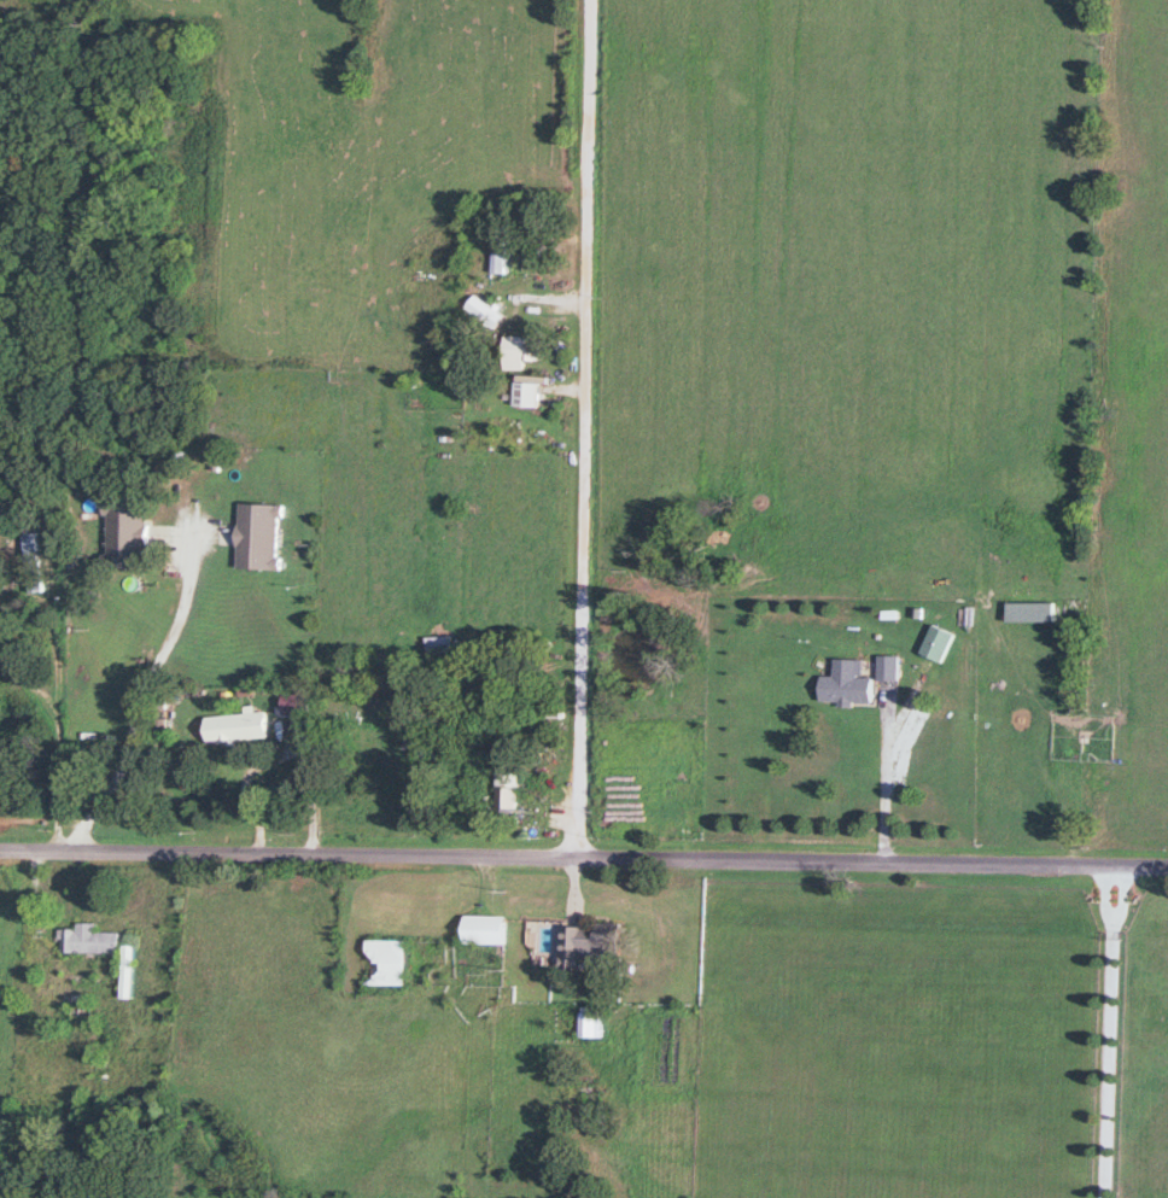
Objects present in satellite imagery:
building: (500, 245)
building: (522, 352)
building: (527, 395)
road: (576, 428)
building: (125, 534)
building: (258, 537)
building: (31, 563)
building: (1029, 613)
building: (936, 644)
building: (887, 670)
road: (145, 682)
building: (847, 685)
building: (294, 702)
building: (235, 729)
road: (54, 743)
road: (888, 782)
building: (507, 790)
road: (584, 858)
building: (486, 930)
building: (89, 941)
building: (592, 943)
building: (387, 964)
building: (592, 1025)
road: (1102, 1032)

